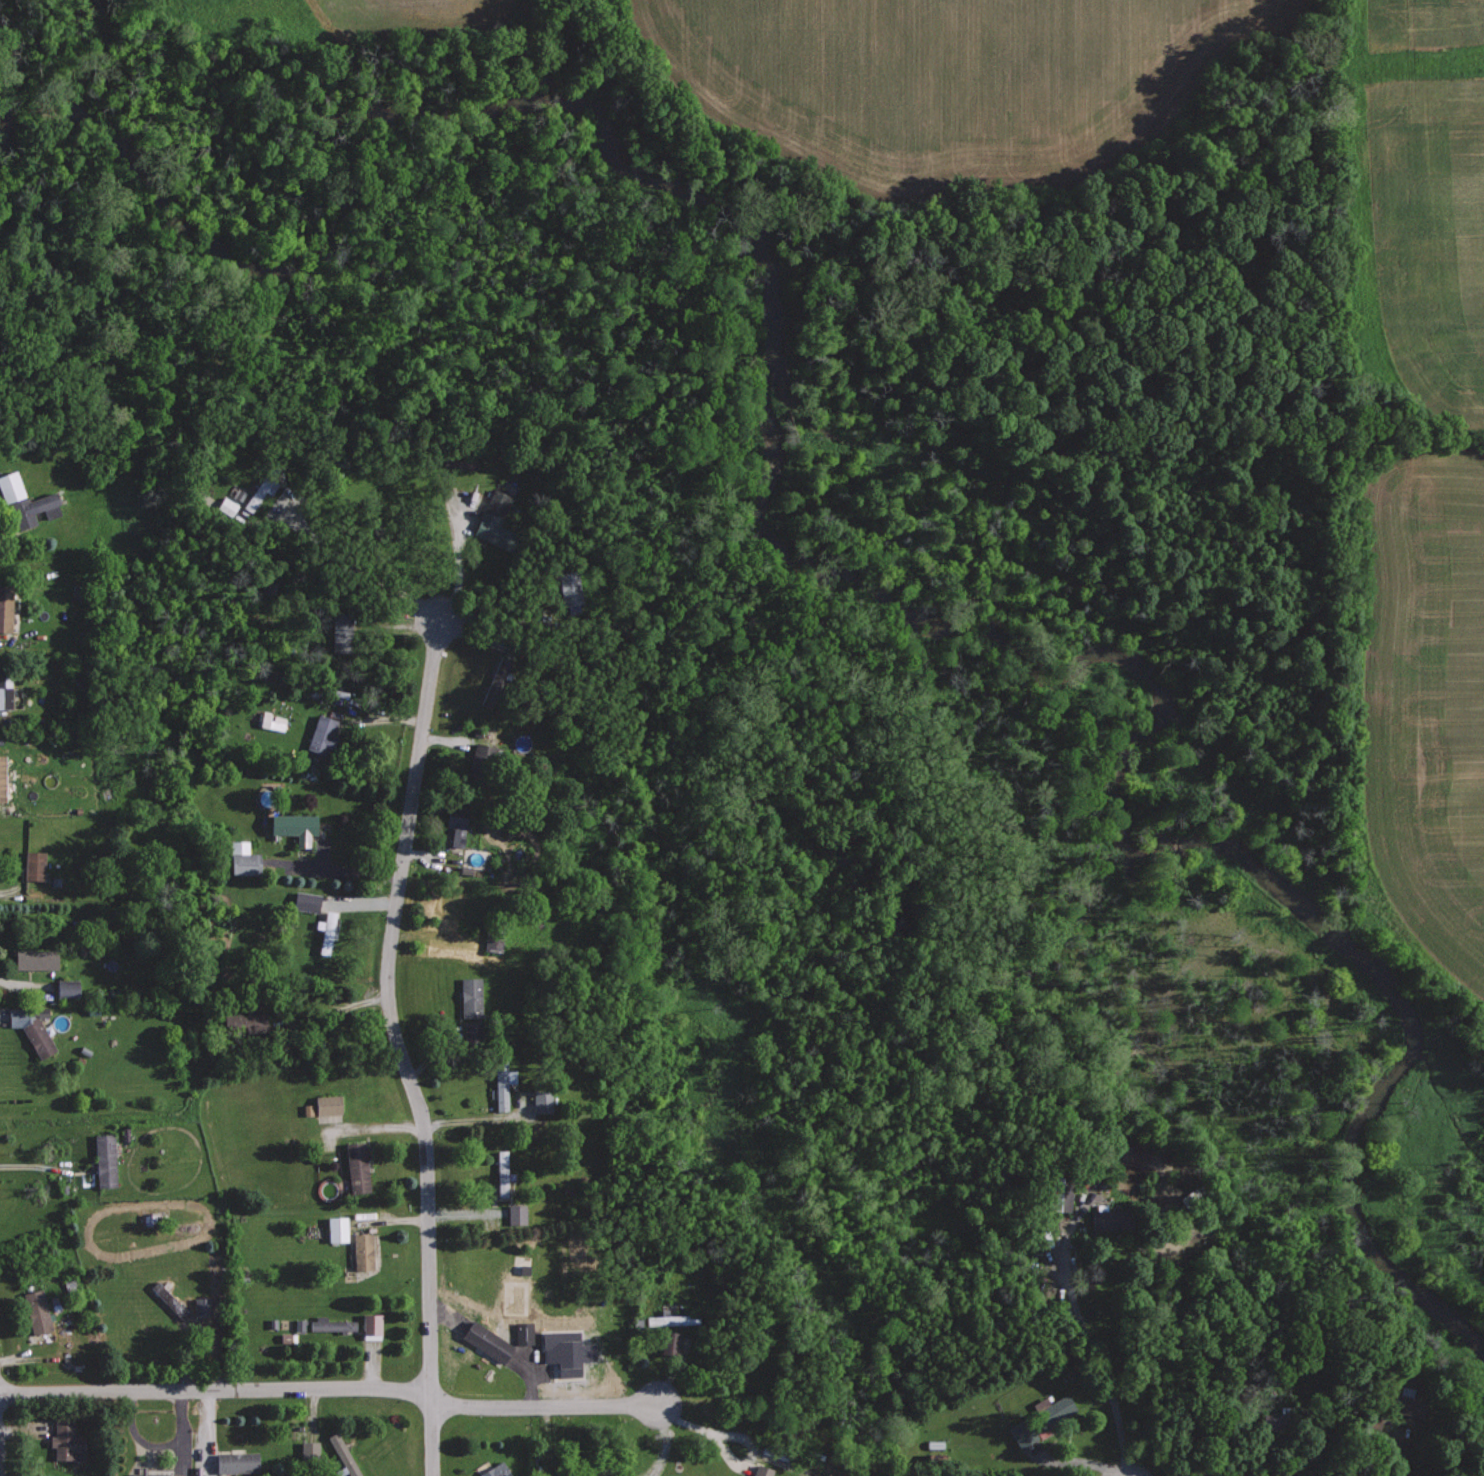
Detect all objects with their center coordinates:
building: (9, 487)
building: (258, 492)
building: (225, 506)
building: (30, 510)
building: (493, 522)
building: (568, 588)
building: (5, 608)
building: (339, 633)
building: (4, 691)
building: (271, 722)
building: (320, 735)
building: (1, 778)
building: (454, 825)
building: (293, 827)
building: (241, 860)
building: (32, 866)
building: (304, 902)
building: (325, 932)
building: (491, 943)
building: (34, 959)
building: (65, 990)
building: (469, 997)
building: (36, 1037)
road: (398, 1046)
building: (501, 1083)
building: (540, 1101)
building: (326, 1104)
building: (103, 1160)
building: (355, 1166)
building: (500, 1173)
building: (1054, 1196)
building: (515, 1213)
building: (1110, 1219)
building: (335, 1228)
building: (361, 1251)
building: (201, 1306)
building: (35, 1311)
building: (670, 1319)
building: (370, 1323)
building: (330, 1324)
building: (522, 1332)
road: (1087, 1336)
building: (485, 1341)
building: (667, 1342)
building: (565, 1352)
road: (216, 1388)
road: (543, 1404)
building: (1405, 1405)
building: (1038, 1422)
building: (65, 1441)
building: (308, 1448)
building: (341, 1456)
building: (235, 1462)
building: (494, 1470)
building: (760, 1471)
building: (148, 1475)
building: (672, 1475)
building: (826, 1475)

